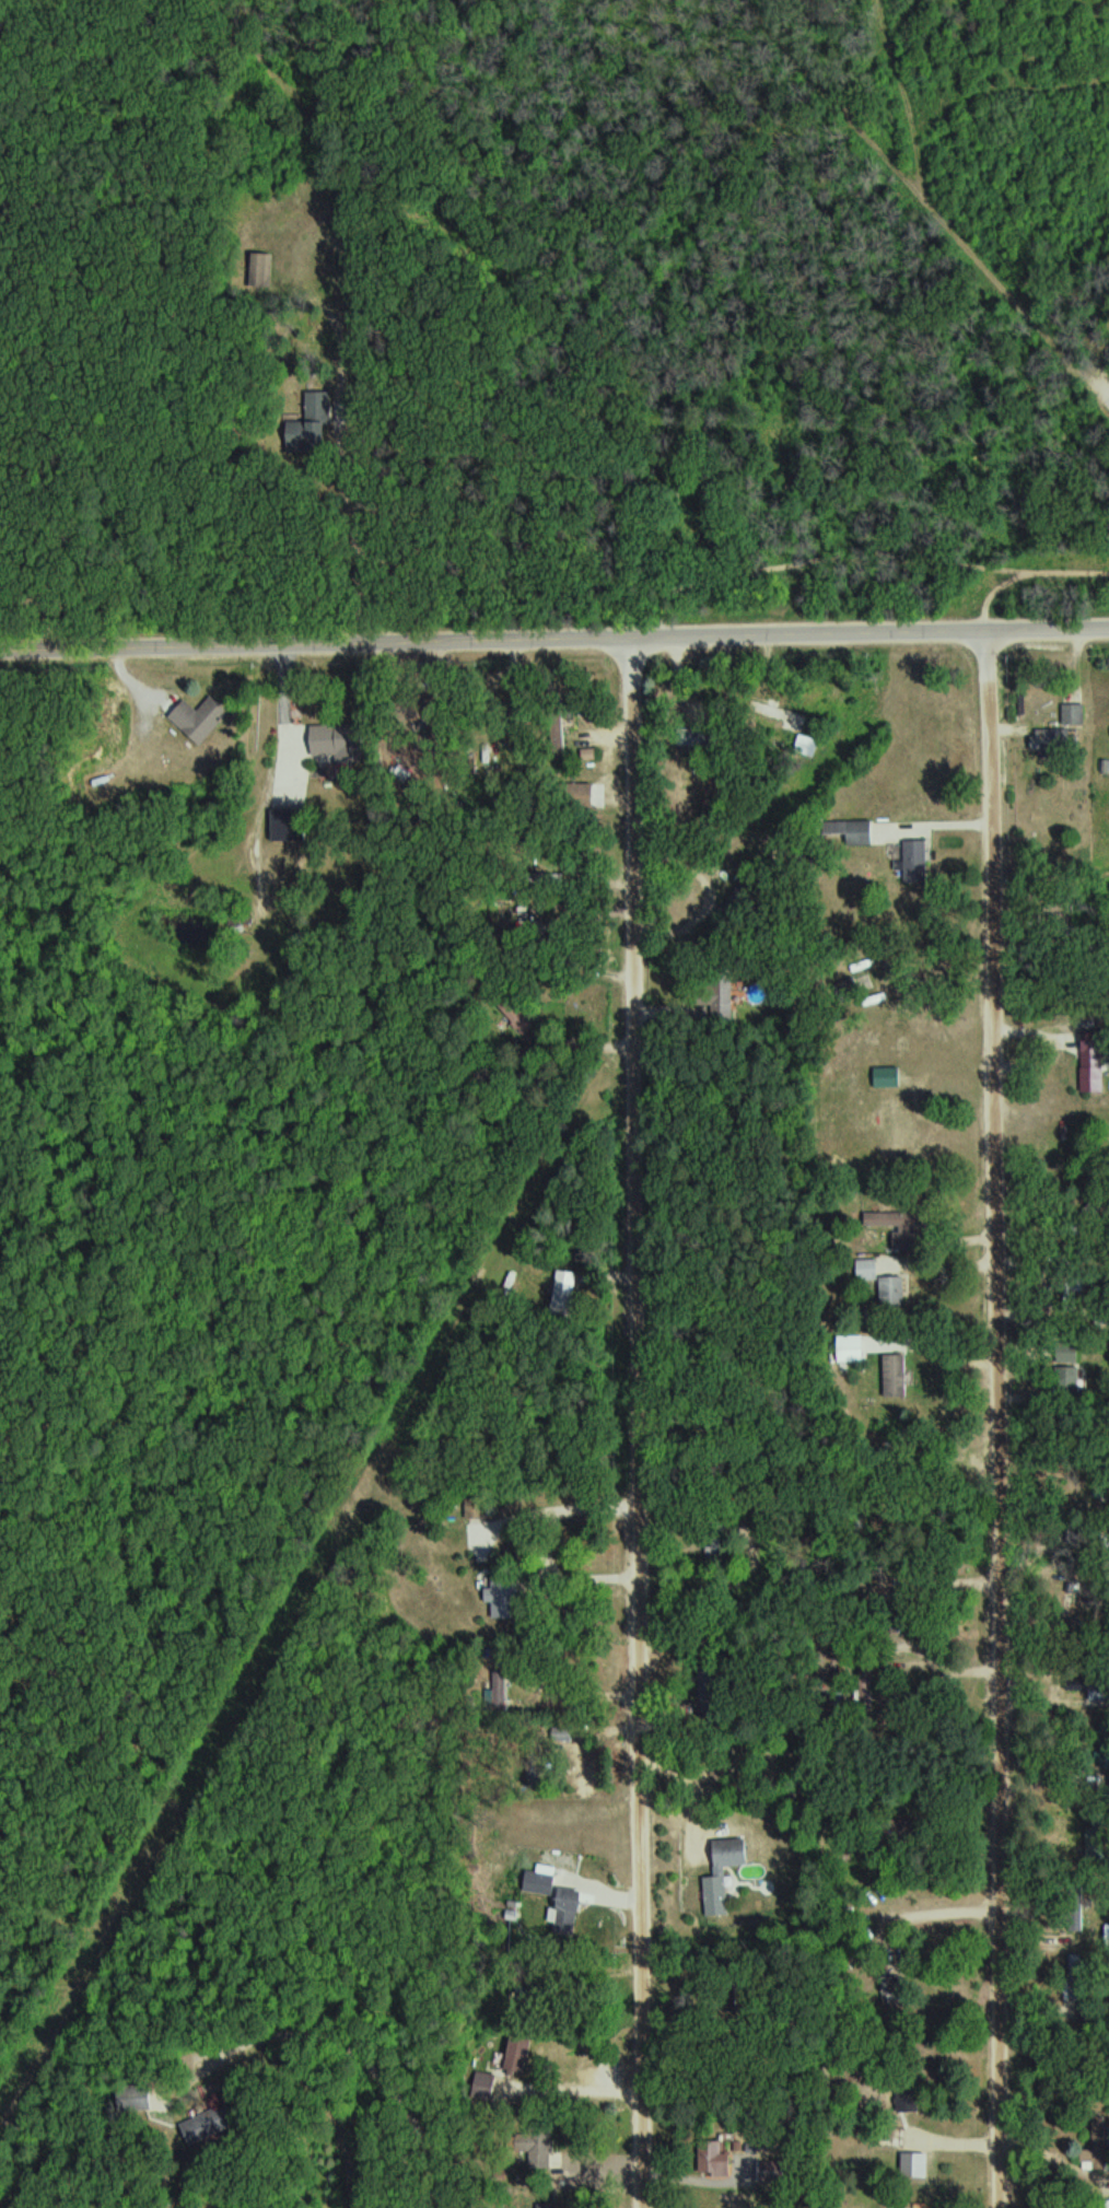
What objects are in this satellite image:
road: (923, 197)
building: (264, 269)
building: (306, 432)
road: (554, 640)
building: (1076, 713)
building: (202, 719)
building: (1059, 739)
building: (918, 861)
building: (890, 1077)
building: (895, 1125)
building: (891, 1261)
building: (886, 1282)
building: (898, 1375)
road: (999, 1418)
road: (643, 1423)
building: (564, 1734)
building: (600, 1843)
building: (725, 1873)
building: (570, 1908)
building: (1108, 1935)
building: (1077, 1961)
building: (487, 2083)
building: (136, 2096)
building: (894, 2135)
building: (713, 2157)

